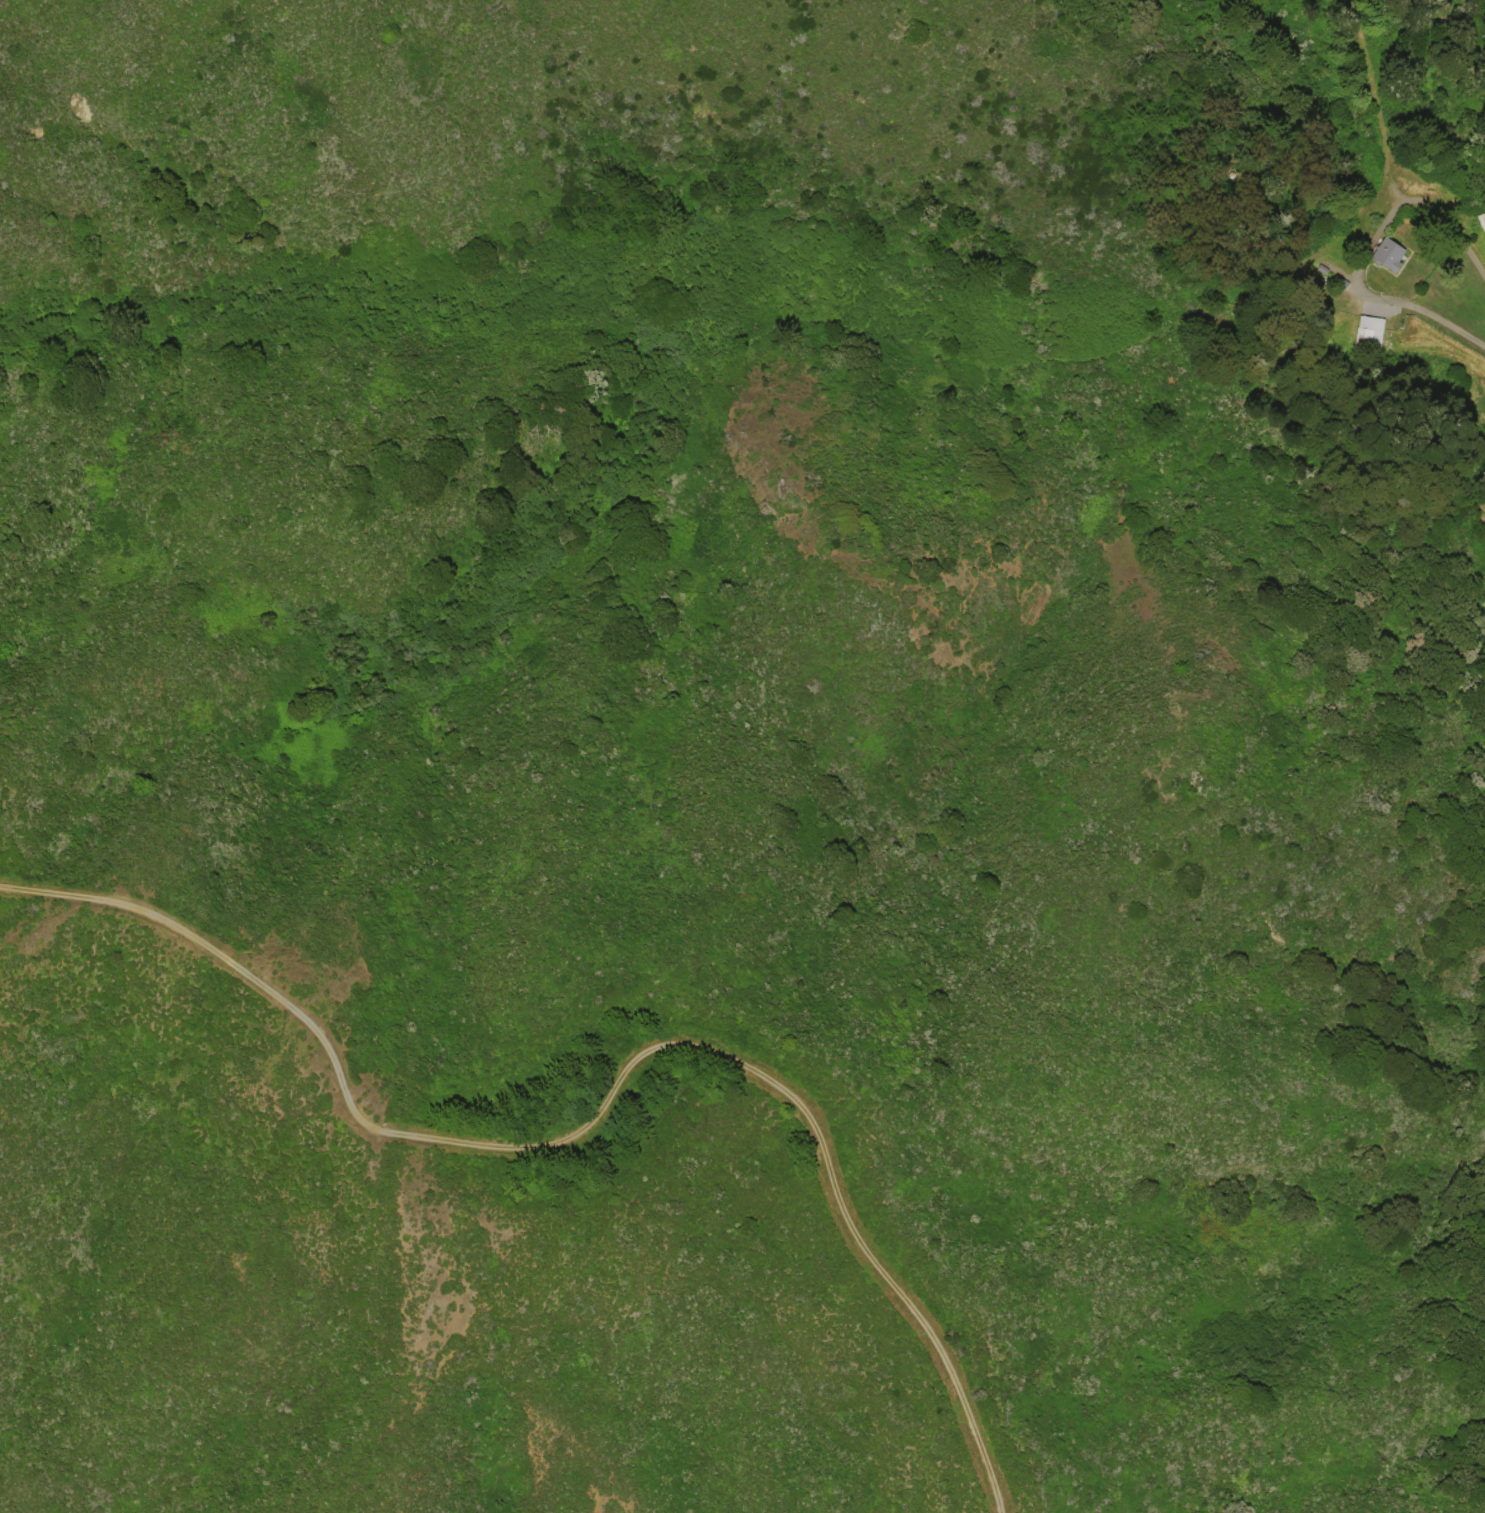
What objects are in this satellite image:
building: (1481, 221)
road: (1364, 254)
building: (1389, 255)
building: (1368, 333)
road: (599, 1112)

